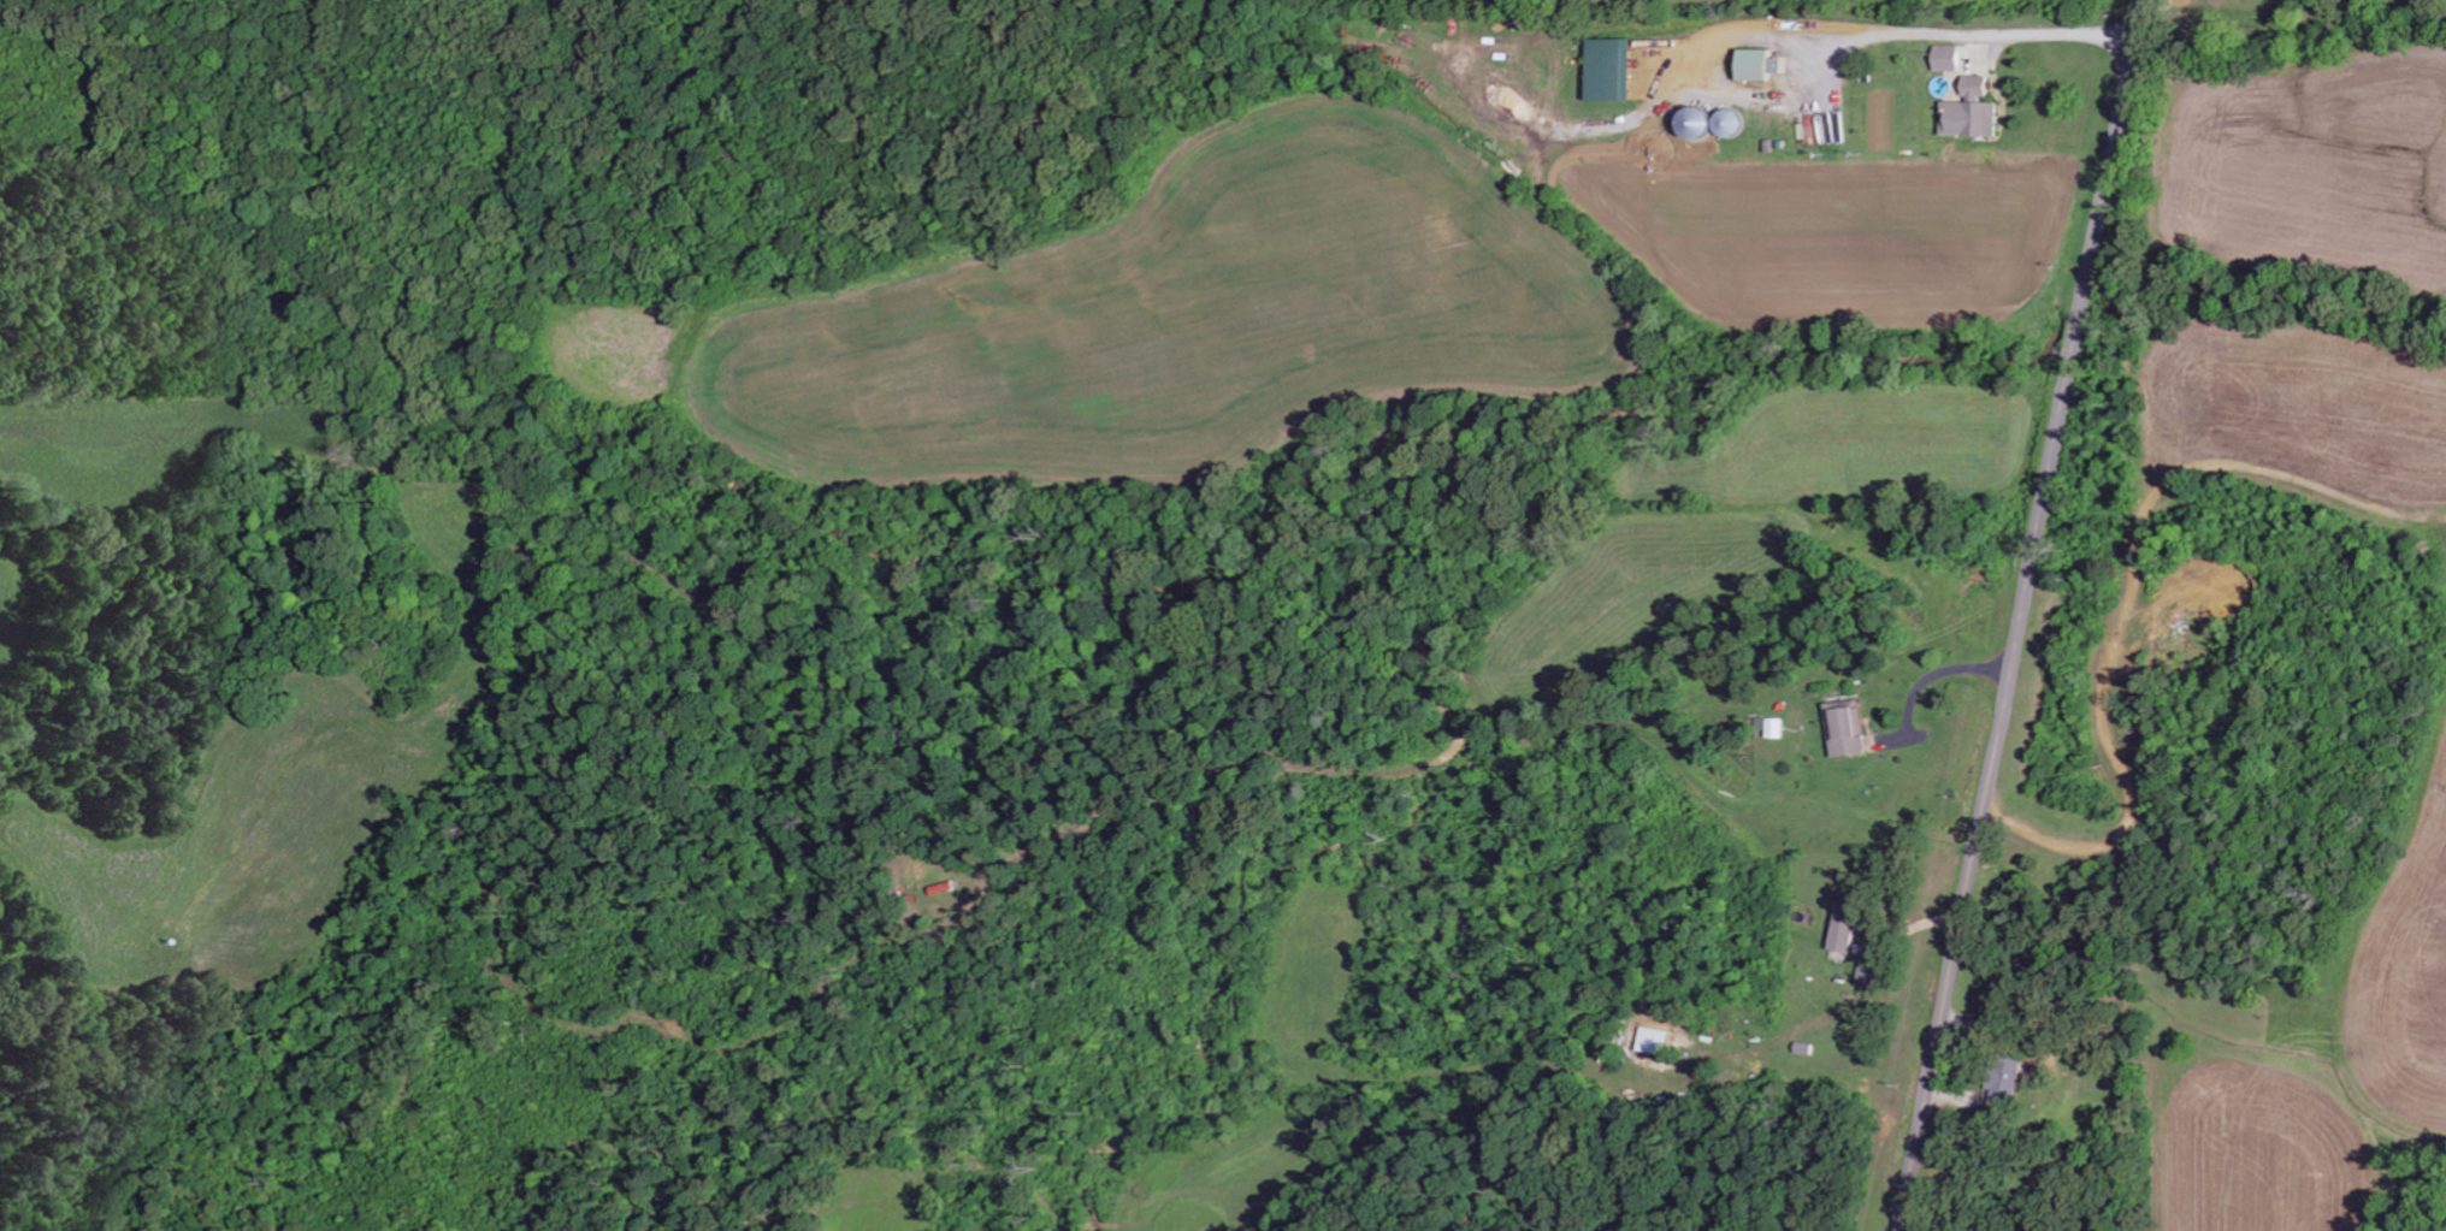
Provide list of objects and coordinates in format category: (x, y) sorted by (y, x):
building: (1950, 58)
building: (1766, 63)
building: (1981, 85)
building: (1974, 118)
building: (1718, 120)
road: (2180, 425)
road: (2020, 614)
building: (1850, 728)
building: (1850, 927)
building: (1872, 973)
building: (1656, 1046)
building: (2014, 1083)

